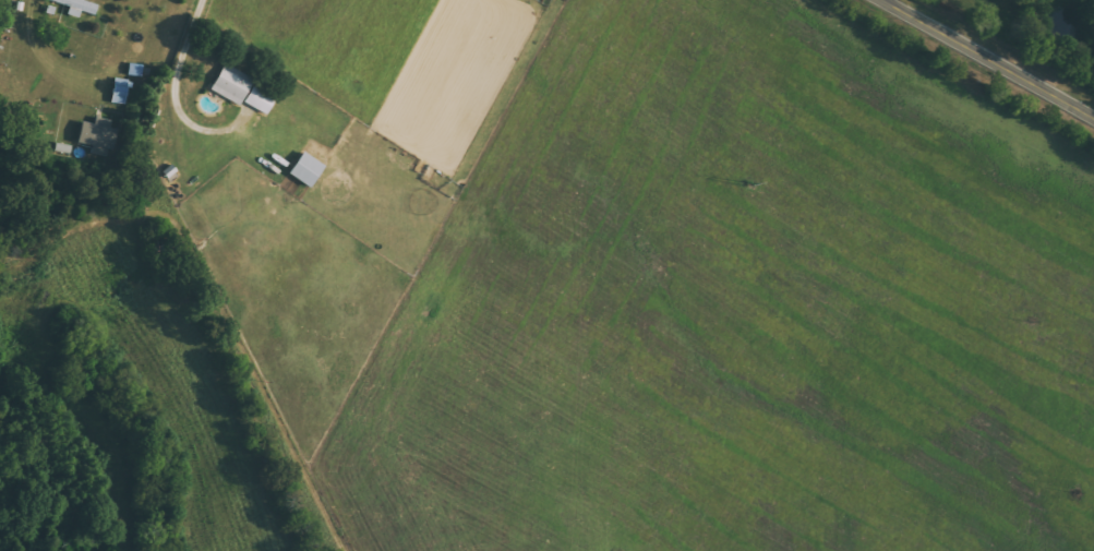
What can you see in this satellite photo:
building: (74, 7)
road: (995, 55)
building: (228, 86)
building: (116, 92)
building: (256, 101)
building: (93, 134)
building: (302, 170)
power tower: (745, 183)

